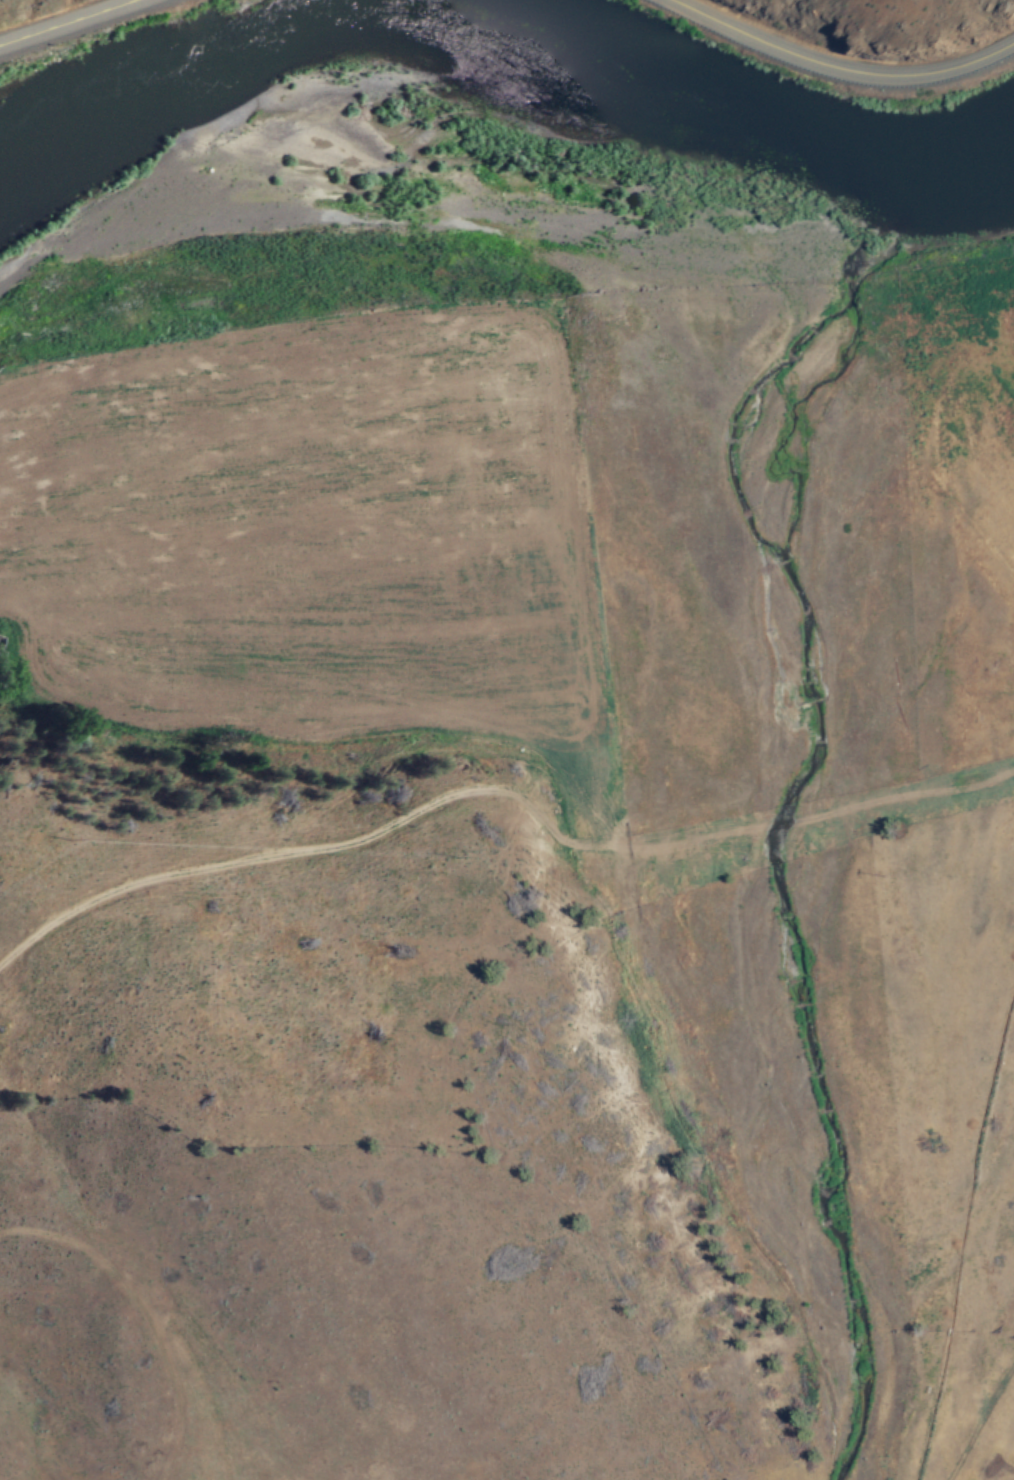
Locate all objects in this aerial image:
road: (76, 26)
river: (493, 48)
road: (830, 73)

